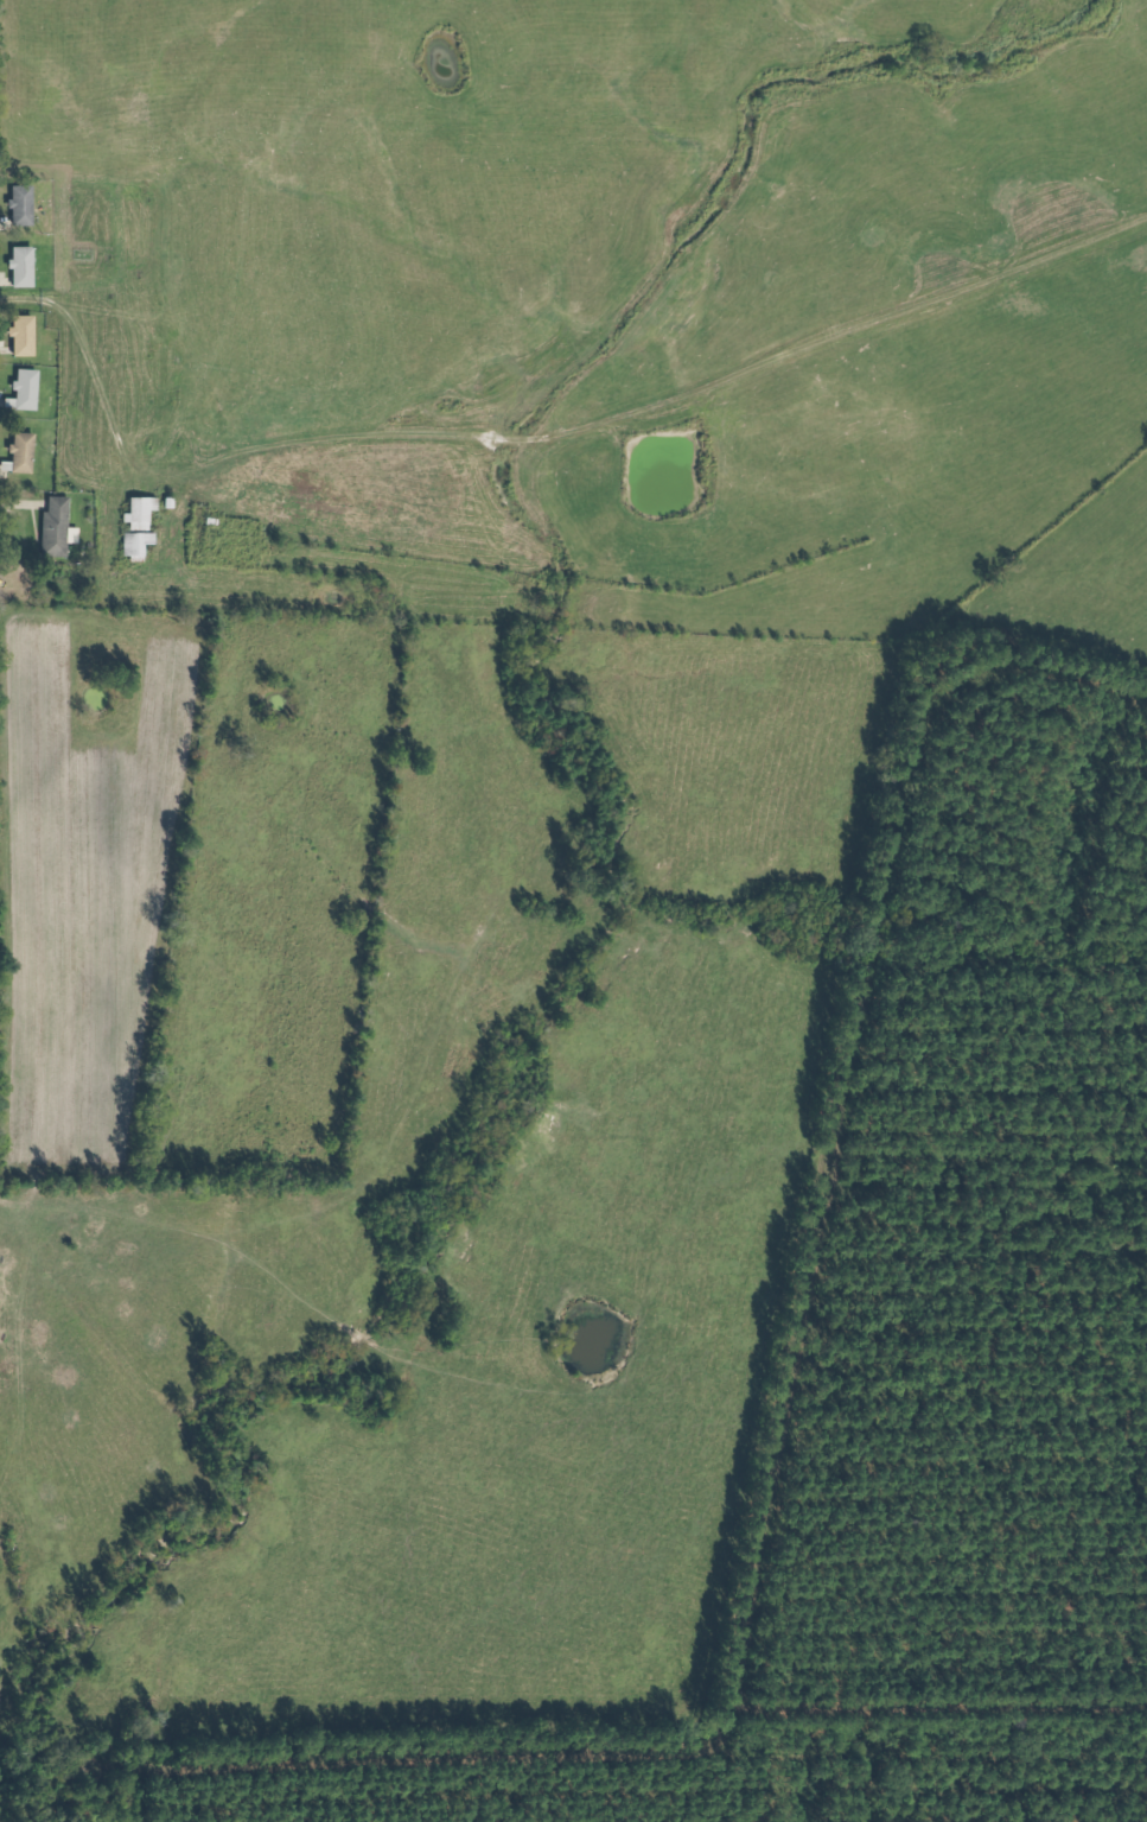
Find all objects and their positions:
building: (26, 204)
building: (27, 266)
building: (28, 336)
building: (31, 389)
building: (27, 452)
building: (144, 526)
building: (62, 528)

